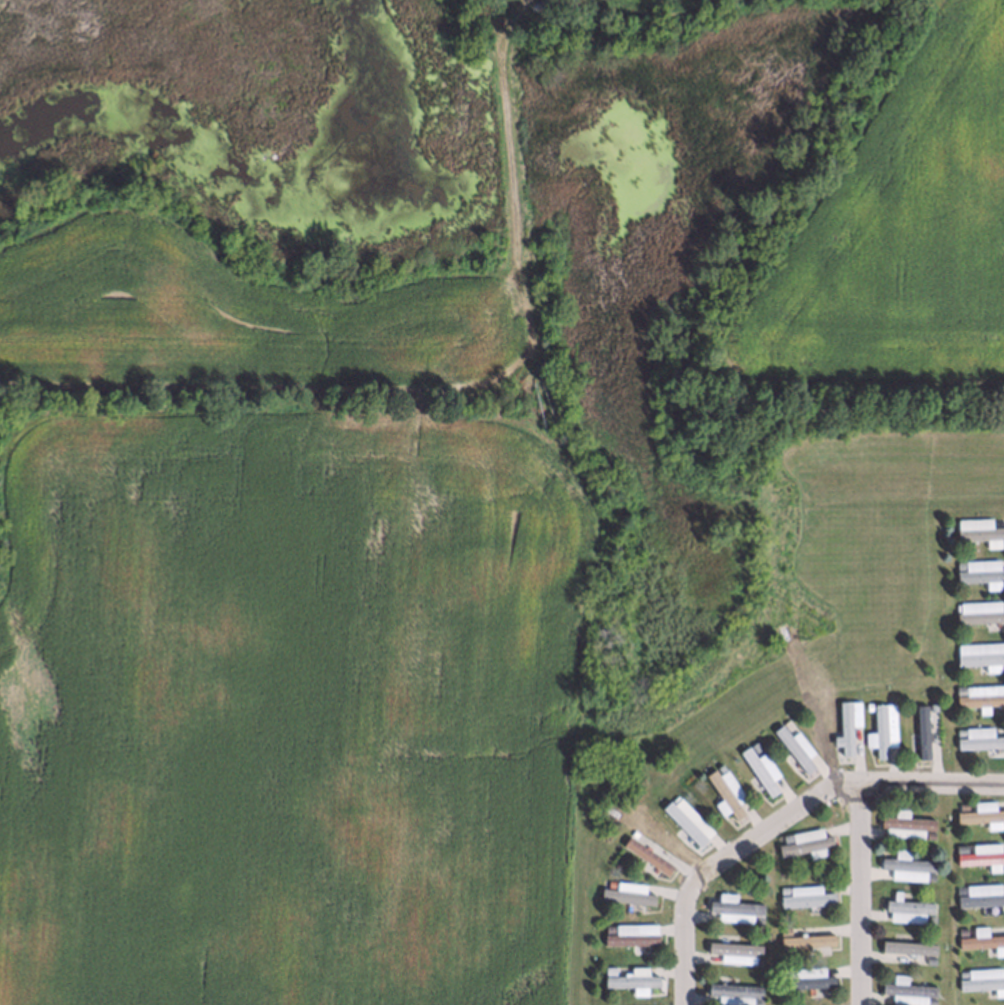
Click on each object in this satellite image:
building: (976, 528)
building: (959, 563)
building: (980, 570)
building: (979, 611)
building: (979, 653)
building: (958, 689)
building: (979, 695)
building: (866, 705)
building: (786, 723)
building: (847, 723)
building: (881, 729)
building: (921, 730)
building: (959, 731)
building: (979, 737)
building: (753, 745)
building: (795, 746)
building: (718, 767)
building: (761, 768)
building: (725, 792)
building: (961, 806)
building: (982, 814)
building: (686, 820)
road: (783, 821)
building: (903, 824)
building: (631, 833)
building: (927, 834)
building: (784, 837)
building: (806, 843)
building: (959, 848)
building: (646, 854)
building: (982, 854)
building: (906, 865)
building: (929, 875)
building: (609, 883)
building: (782, 889)
building: (959, 889)
building: (626, 892)
building: (981, 894)
road: (865, 895)
building: (805, 896)
building: (732, 908)
building: (907, 909)
building: (930, 917)
building: (757, 918)
building: (607, 928)
building: (783, 930)
building: (961, 931)
building: (627, 935)
building: (805, 940)
building: (980, 941)
building: (907, 946)
building: (733, 951)
building: (928, 959)
building: (758, 960)
building: (607, 969)
building: (960, 973)
building: (804, 977)
building: (981, 978)
building: (629, 980)
building: (906, 992)
building: (733, 993)
building: (757, 1001)
building: (929, 1001)

